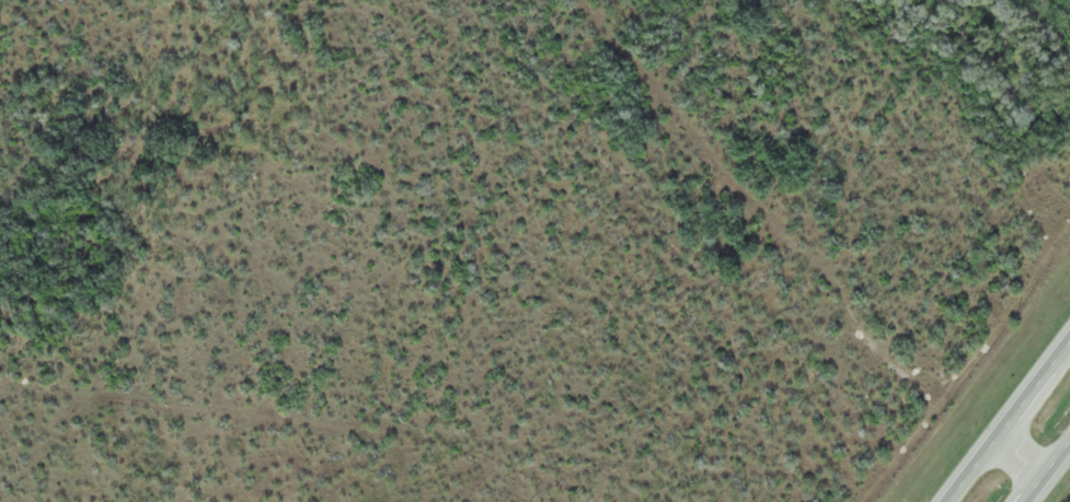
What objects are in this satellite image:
road: (1012, 424)
road: (1031, 457)
road: (1055, 481)

